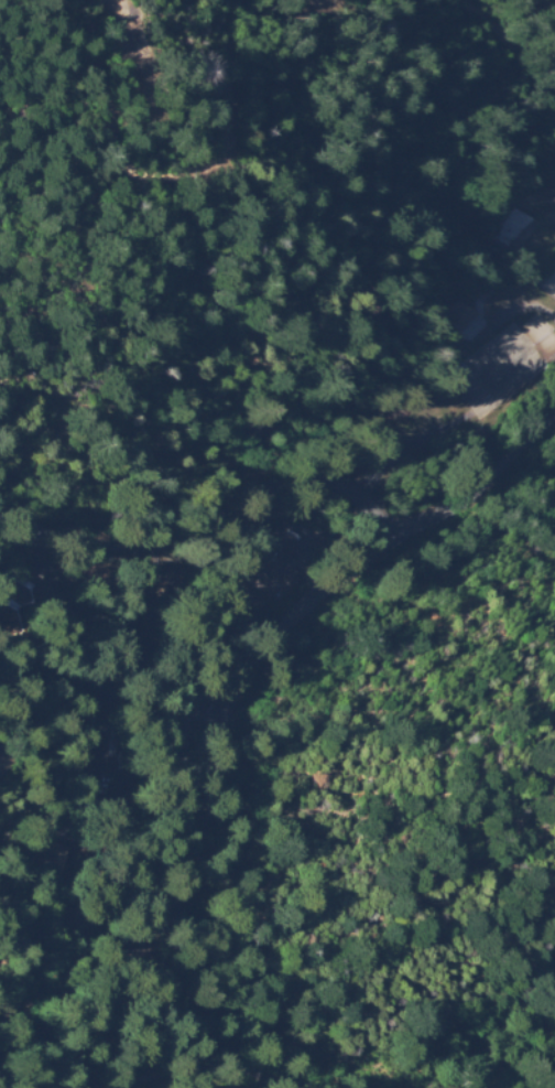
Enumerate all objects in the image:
road: (317, 4)
road: (516, 30)
road: (175, 179)
building: (525, 219)
building: (512, 237)
road: (509, 268)
road: (515, 301)
building: (466, 317)
park: (493, 368)
road: (391, 389)
building: (482, 439)
road: (501, 467)
road: (381, 519)
road: (165, 546)
road: (176, 547)
road: (182, 552)
road: (232, 558)
road: (36, 560)
road: (195, 564)
road: (214, 573)
building: (270, 573)
building: (20, 607)
road: (259, 687)
building: (127, 696)
parking lot: (124, 773)
building: (81, 923)

